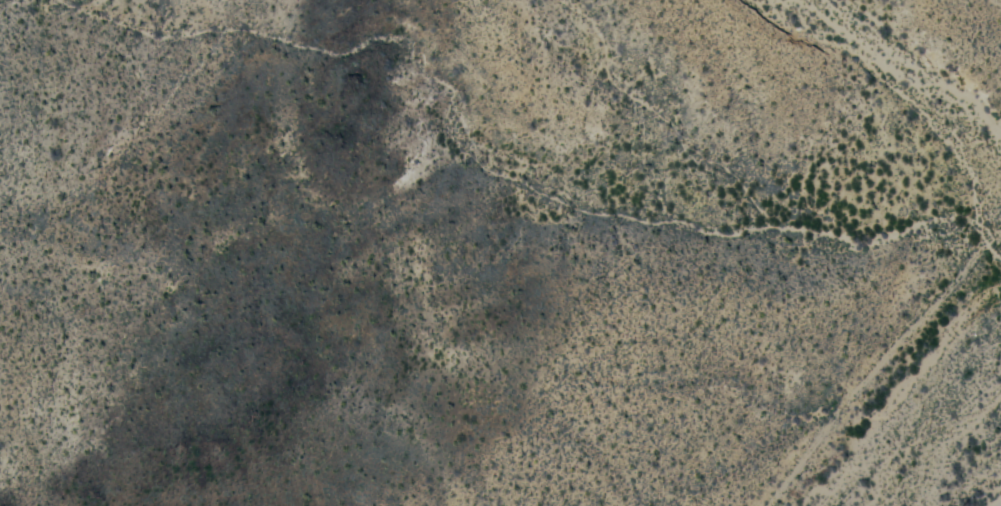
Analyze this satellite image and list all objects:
road: (885, 381)

